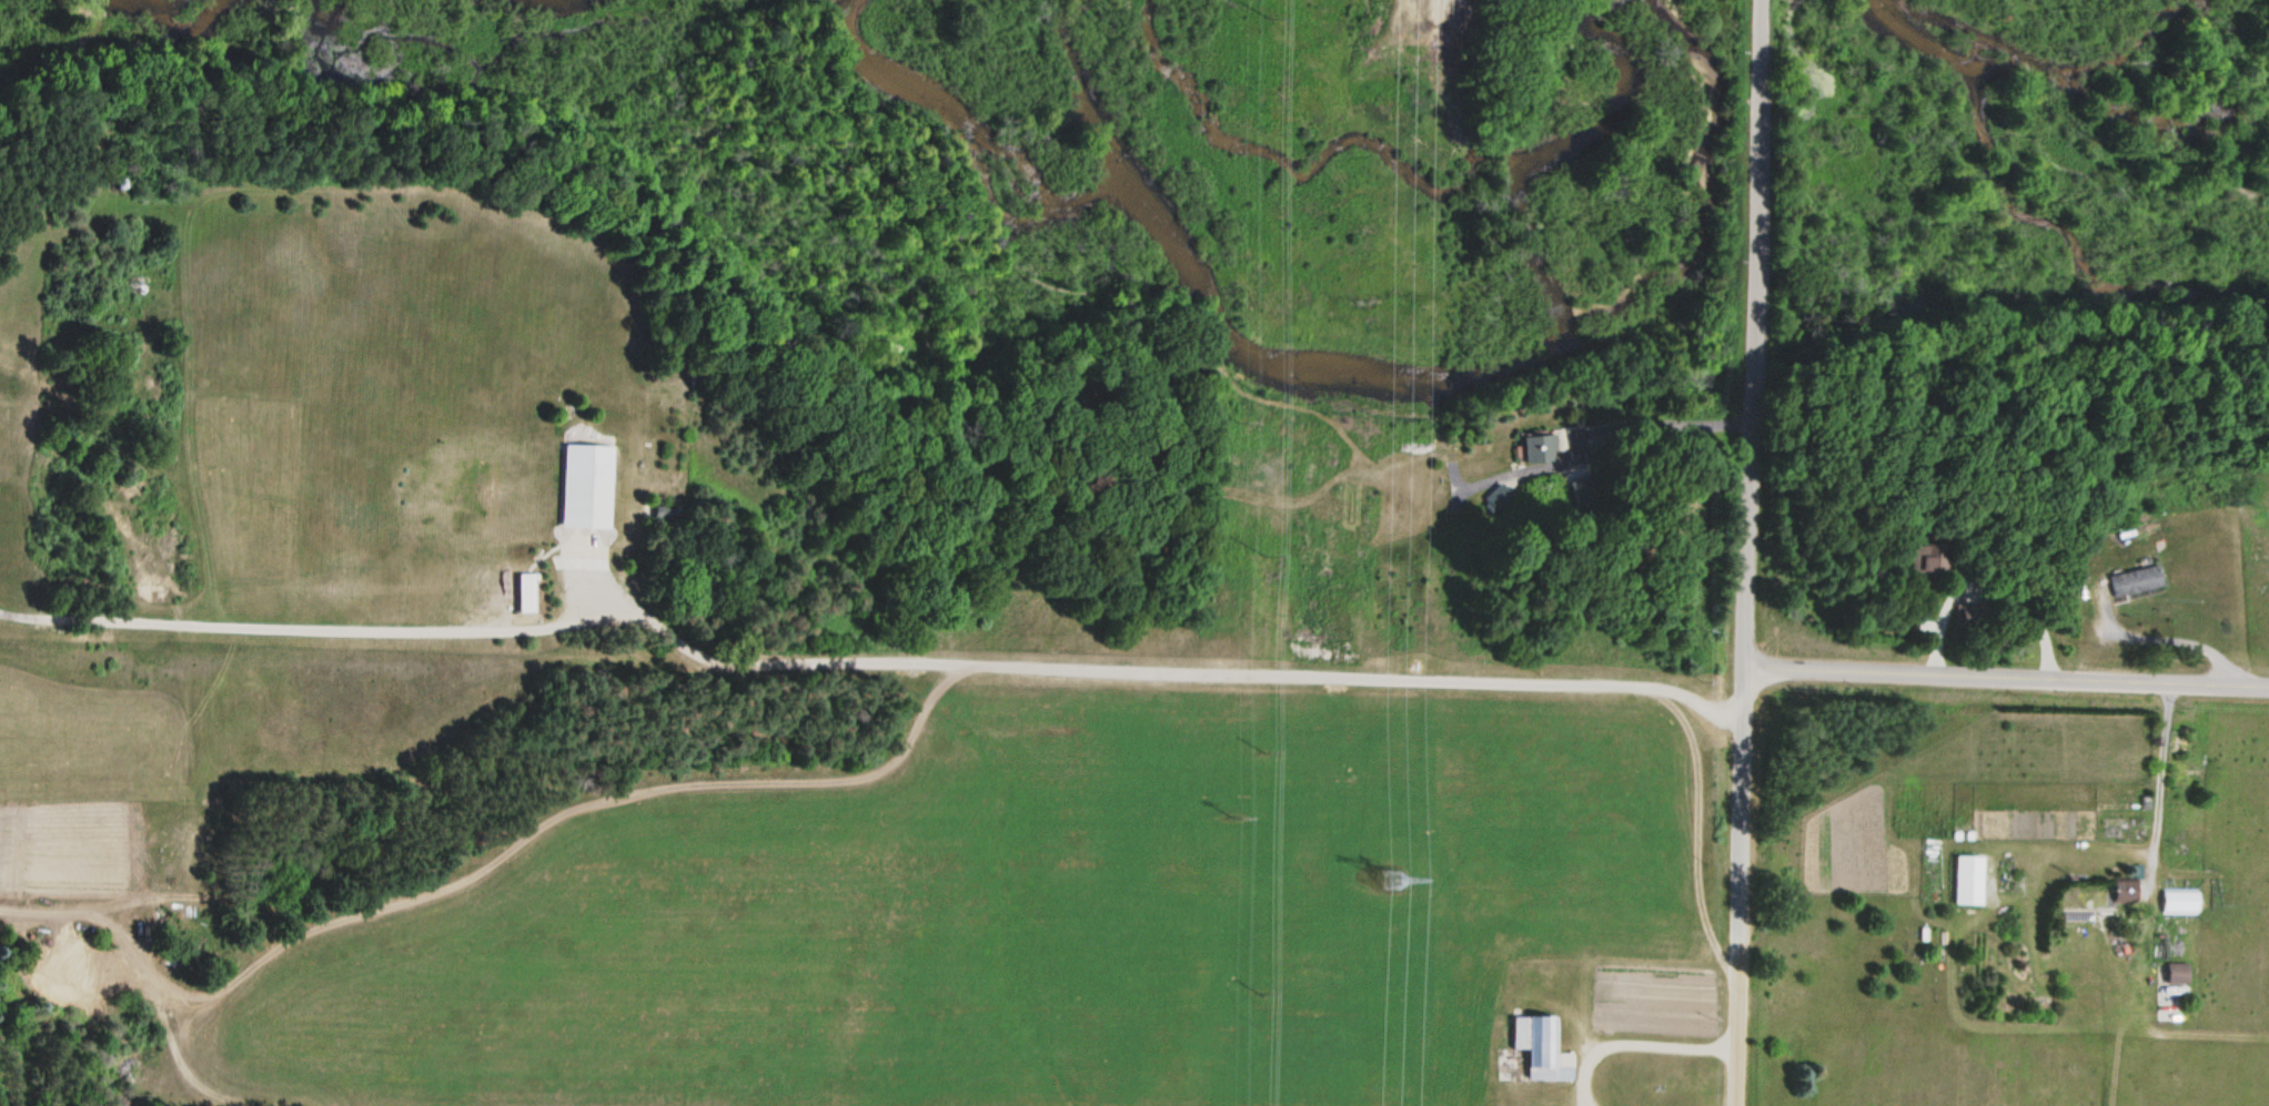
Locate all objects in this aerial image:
road: (1758, 40)
river: (2028, 64)
river: (1330, 379)
building: (587, 487)
building: (2136, 581)
road: (1738, 592)
road: (2003, 674)
power tower: (1392, 874)
building: (1971, 881)
building: (2181, 902)
building: (1542, 1048)

